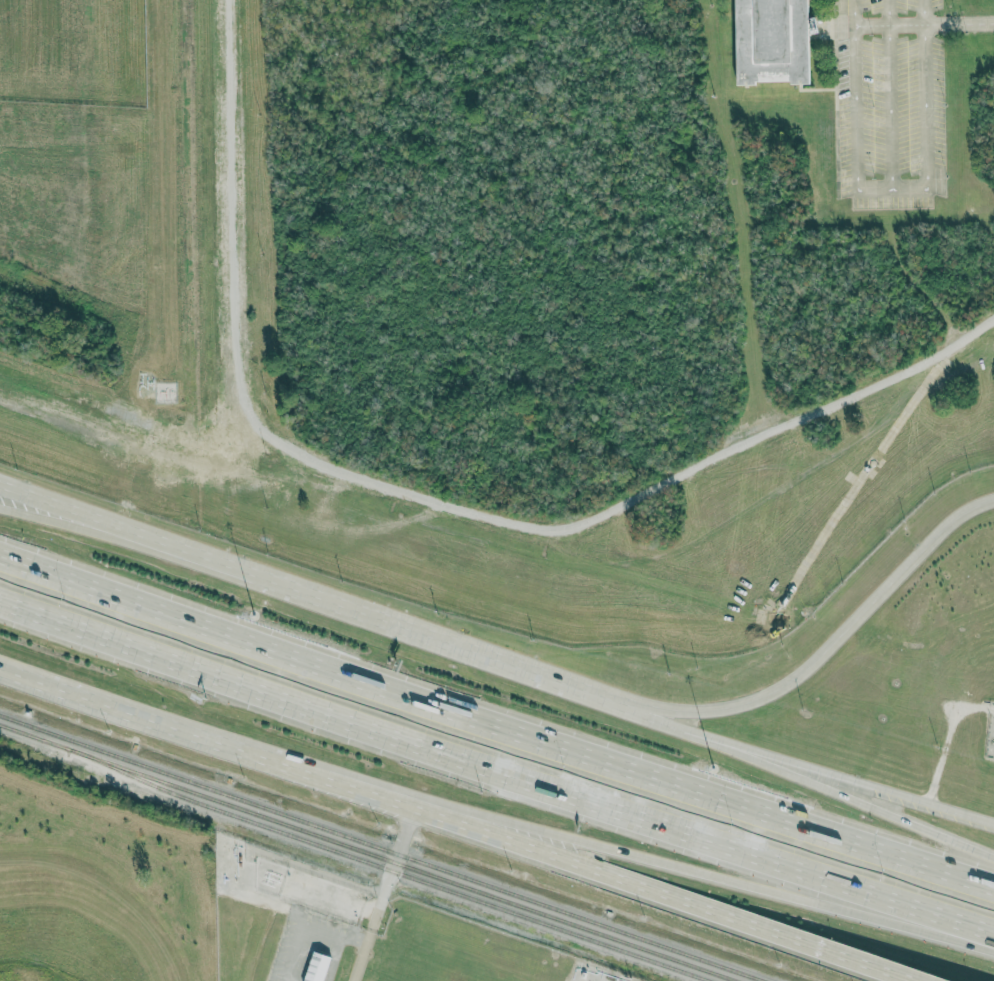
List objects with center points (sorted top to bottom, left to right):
road: (923, 24)
building: (815, 25)
building: (774, 41)
road: (72, 508)
road: (69, 529)
road: (205, 555)
road: (203, 562)
road: (322, 598)
road: (846, 626)
road: (504, 662)
road: (654, 709)
road: (497, 711)
road: (652, 717)
road: (695, 733)
road: (738, 745)
road: (446, 751)
road: (736, 751)
road: (877, 786)
road: (414, 807)
road: (875, 810)
railway: (382, 847)
railway: (369, 852)
road: (691, 867)
railway: (389, 869)
road: (383, 893)
road: (943, 918)
road: (872, 966)
building: (318, 967)

